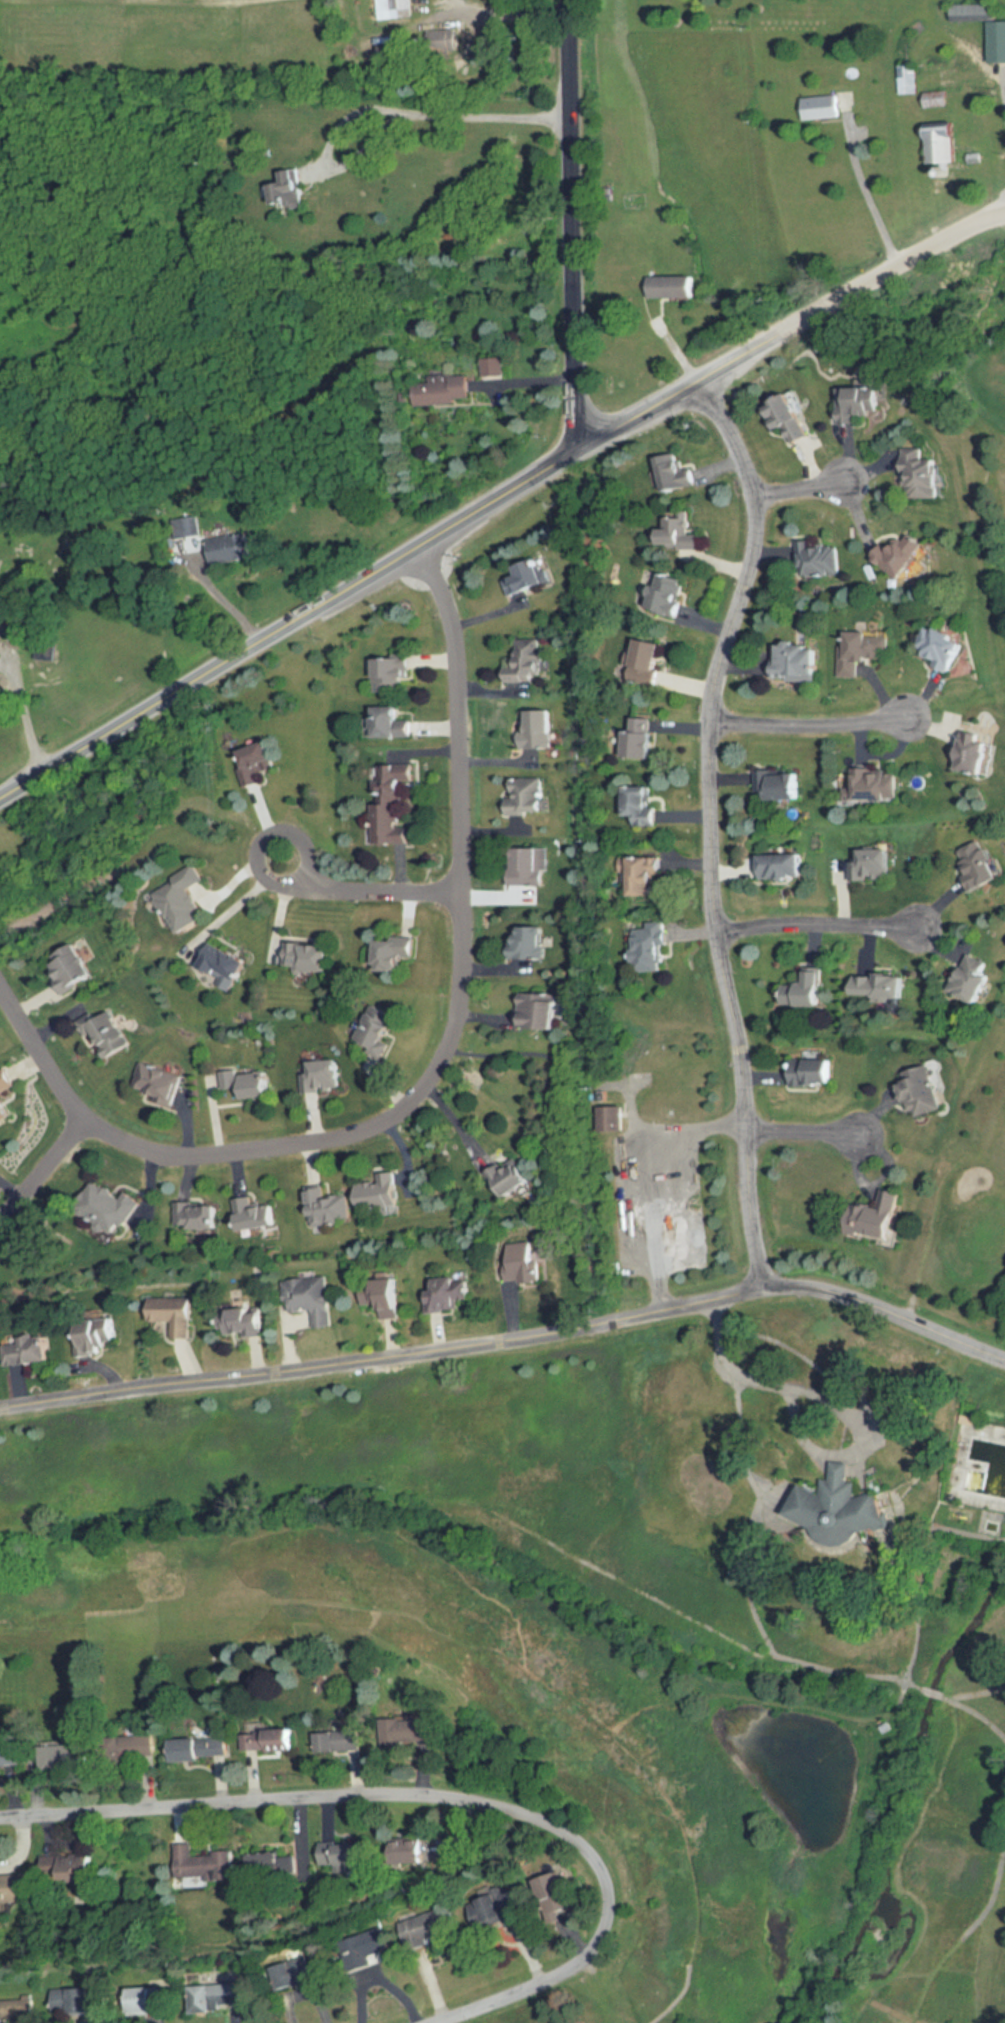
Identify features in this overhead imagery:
building: (386, 9)
road: (506, 13)
building: (996, 42)
building: (439, 43)
building: (396, 53)
building: (907, 79)
road: (1001, 96)
building: (824, 106)
road: (385, 128)
building: (943, 141)
building: (289, 185)
road: (866, 194)
road: (573, 226)
building: (673, 286)
road: (789, 326)
building: (494, 367)
building: (442, 391)
building: (861, 403)
building: (789, 417)
building: (675, 472)
building: (923, 476)
park: (985, 480)
road: (796, 490)
building: (675, 530)
building: (227, 550)
building: (902, 555)
building: (815, 559)
building: (528, 577)
building: (668, 594)
road: (220, 599)
road: (290, 623)
building: (942, 647)
building: (863, 651)
building: (648, 660)
building: (802, 662)
building: (526, 663)
building: (392, 674)
road: (25, 710)
building: (392, 722)
road: (808, 726)
building: (538, 729)
building: (641, 737)
building: (979, 752)
building: (255, 761)
building: (782, 785)
building: (875, 786)
building: (526, 796)
building: (390, 804)
building: (641, 805)
road: (708, 829)
building: (873, 864)
building: (982, 865)
building: (528, 866)
building: (783, 866)
building: (644, 877)
road: (365, 892)
building: (178, 902)
road: (236, 902)
road: (812, 925)
building: (530, 942)
building: (651, 948)
building: (397, 953)
building: (309, 957)
building: (224, 964)
building: (70, 968)
building: (975, 981)
building: (882, 985)
building: (810, 989)
building: (540, 1012)
building: (378, 1028)
building: (107, 1034)
building: (815, 1072)
road: (436, 1073)
building: (324, 1077)
building: (157, 1081)
building: (248, 1083)
building: (922, 1093)
building: (3, 1106)
road: (804, 1131)
road: (42, 1169)
road: (633, 1170)
building: (515, 1177)
road: (12, 1181)
building: (378, 1195)
parking lot: (651, 1201)
building: (326, 1207)
building: (109, 1208)
building: (196, 1216)
building: (253, 1216)
building: (879, 1219)
building: (522, 1263)
building: (449, 1295)
building: (384, 1296)
building: (311, 1299)
building: (173, 1314)
building: (246, 1322)
building: (95, 1337)
road: (965, 1345)
road: (467, 1346)
building: (32, 1351)
road: (826, 1402)
building: (837, 1509)
park: (629, 1579)
building: (270, 1740)
building: (341, 1742)
building: (141, 1746)
building: (201, 1748)
building: (10, 1751)
building: (68, 1759)
road: (452, 1792)
building: (414, 1853)
building: (346, 1854)
building: (268, 1864)
building: (206, 1865)
building: (83, 1870)
building: (16, 1889)
building: (495, 1906)
building: (430, 1926)
building: (366, 1950)
road: (382, 1973)
building: (292, 1974)
building: (214, 1997)
building: (74, 2001)
building: (146, 2001)
building: (16, 2010)

